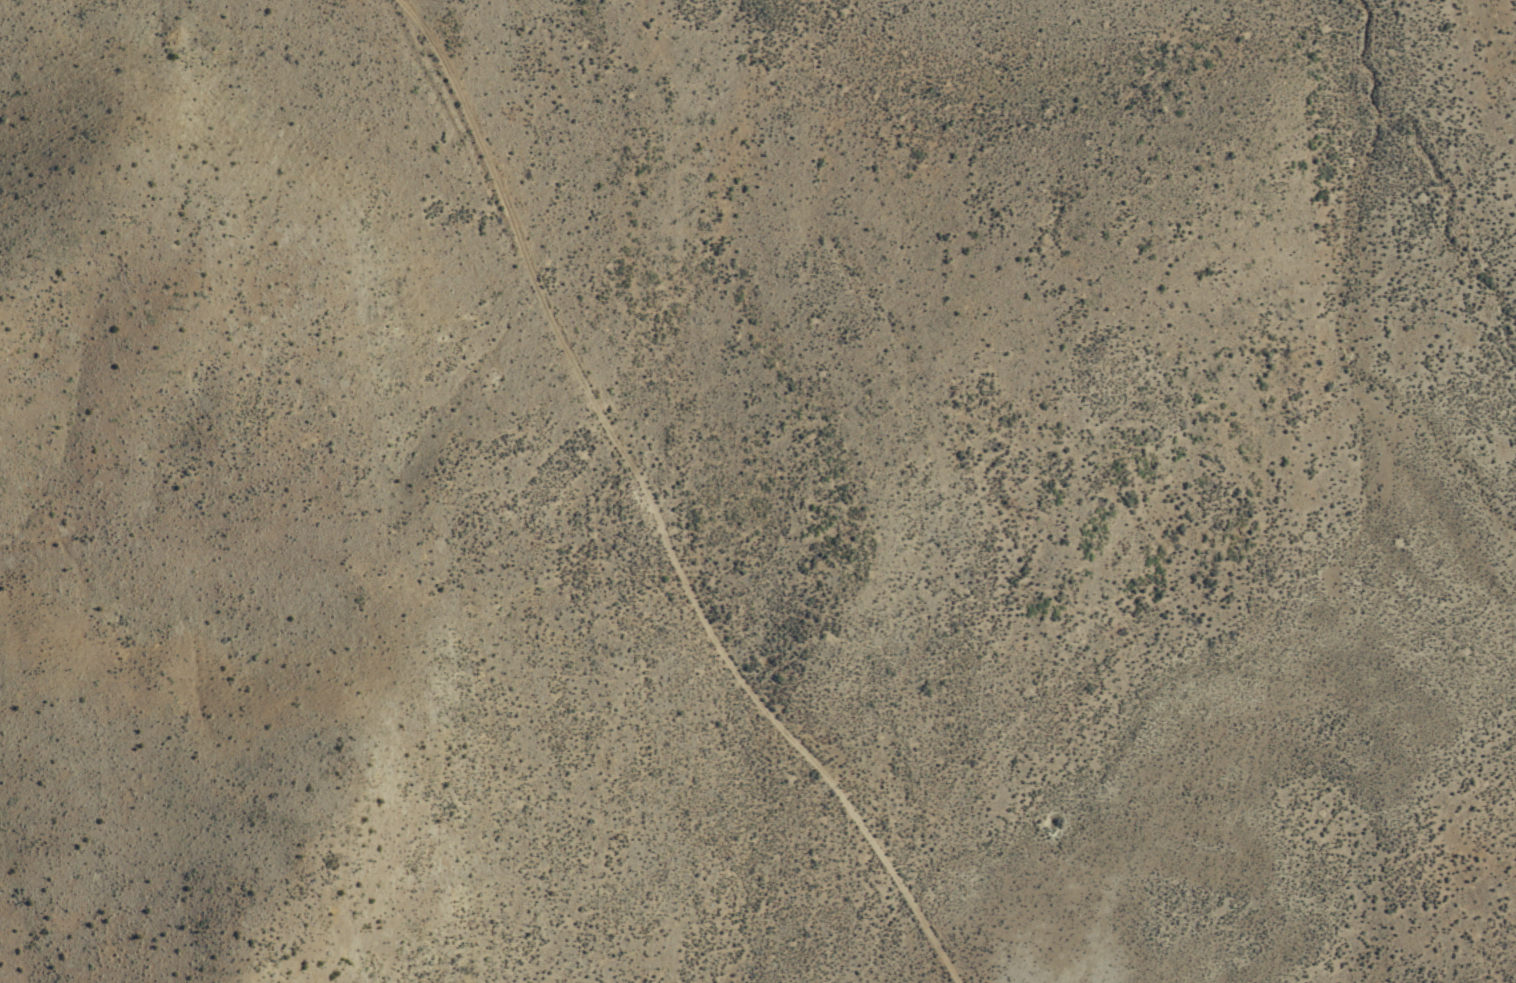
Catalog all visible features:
crop: (1513, 27)
crop: (1460, 307)

